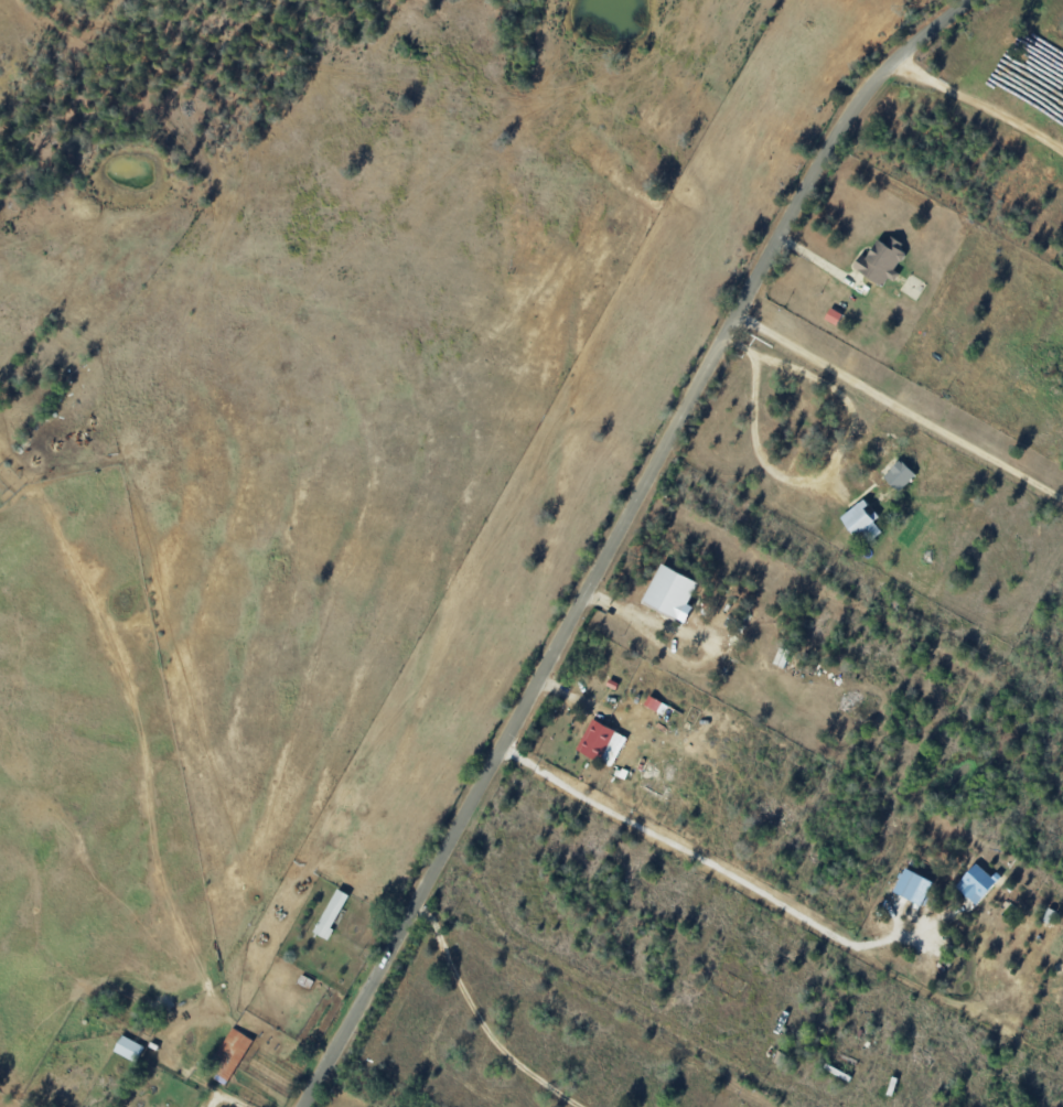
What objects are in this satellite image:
road: (976, 116)
building: (880, 260)
building: (833, 315)
road: (899, 419)
building: (899, 474)
road: (809, 487)
building: (859, 520)
road: (619, 536)
building: (669, 591)
building: (595, 739)
road: (711, 862)
building: (976, 882)
building: (908, 884)
building: (330, 914)
road: (487, 1018)
building: (128, 1047)
building: (229, 1055)

